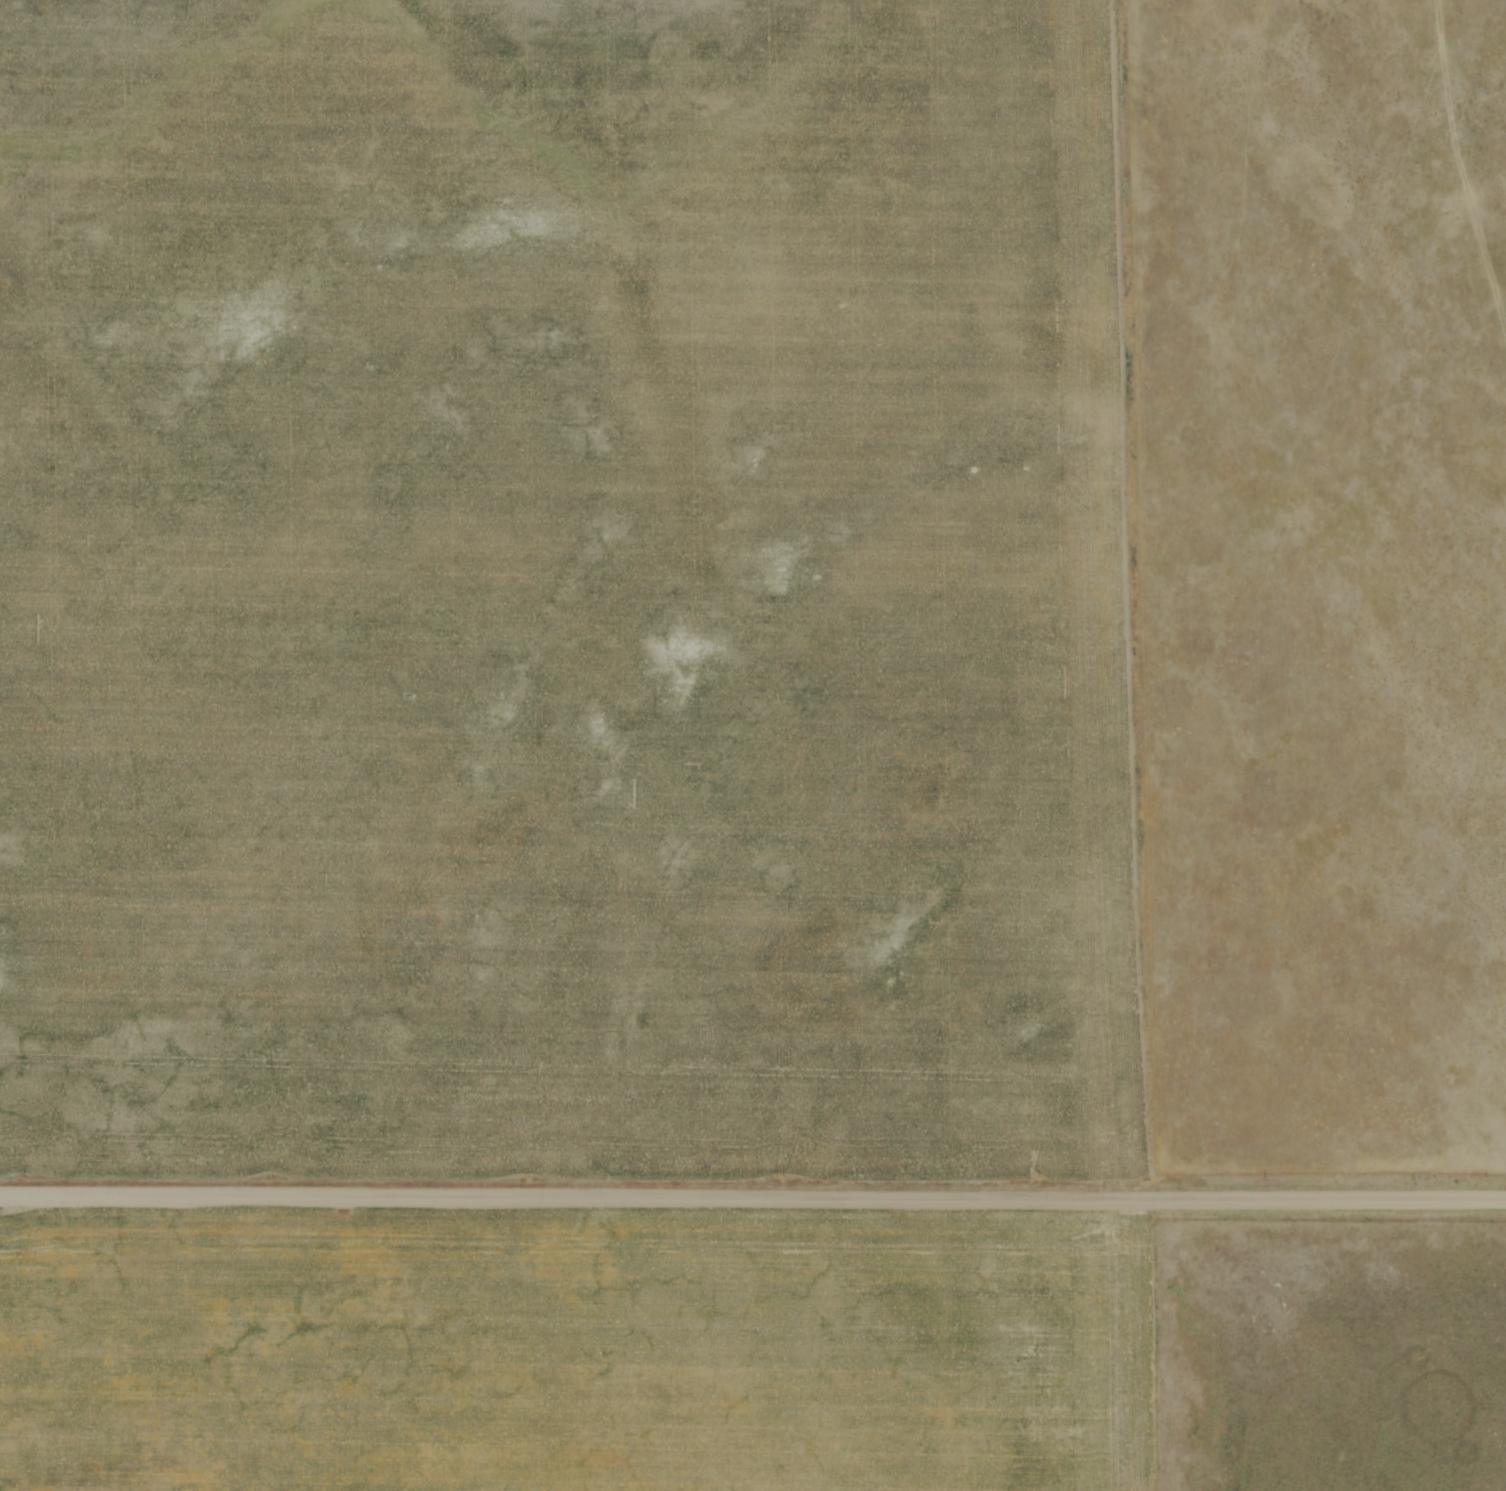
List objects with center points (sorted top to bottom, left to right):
road: (753, 1201)
crop: (590, 1351)
building: (176, 1488)
silo: (176, 1488)
building: (192, 1488)
silo: (192, 1488)
building: (152, 1489)
silo: (152, 1489)

